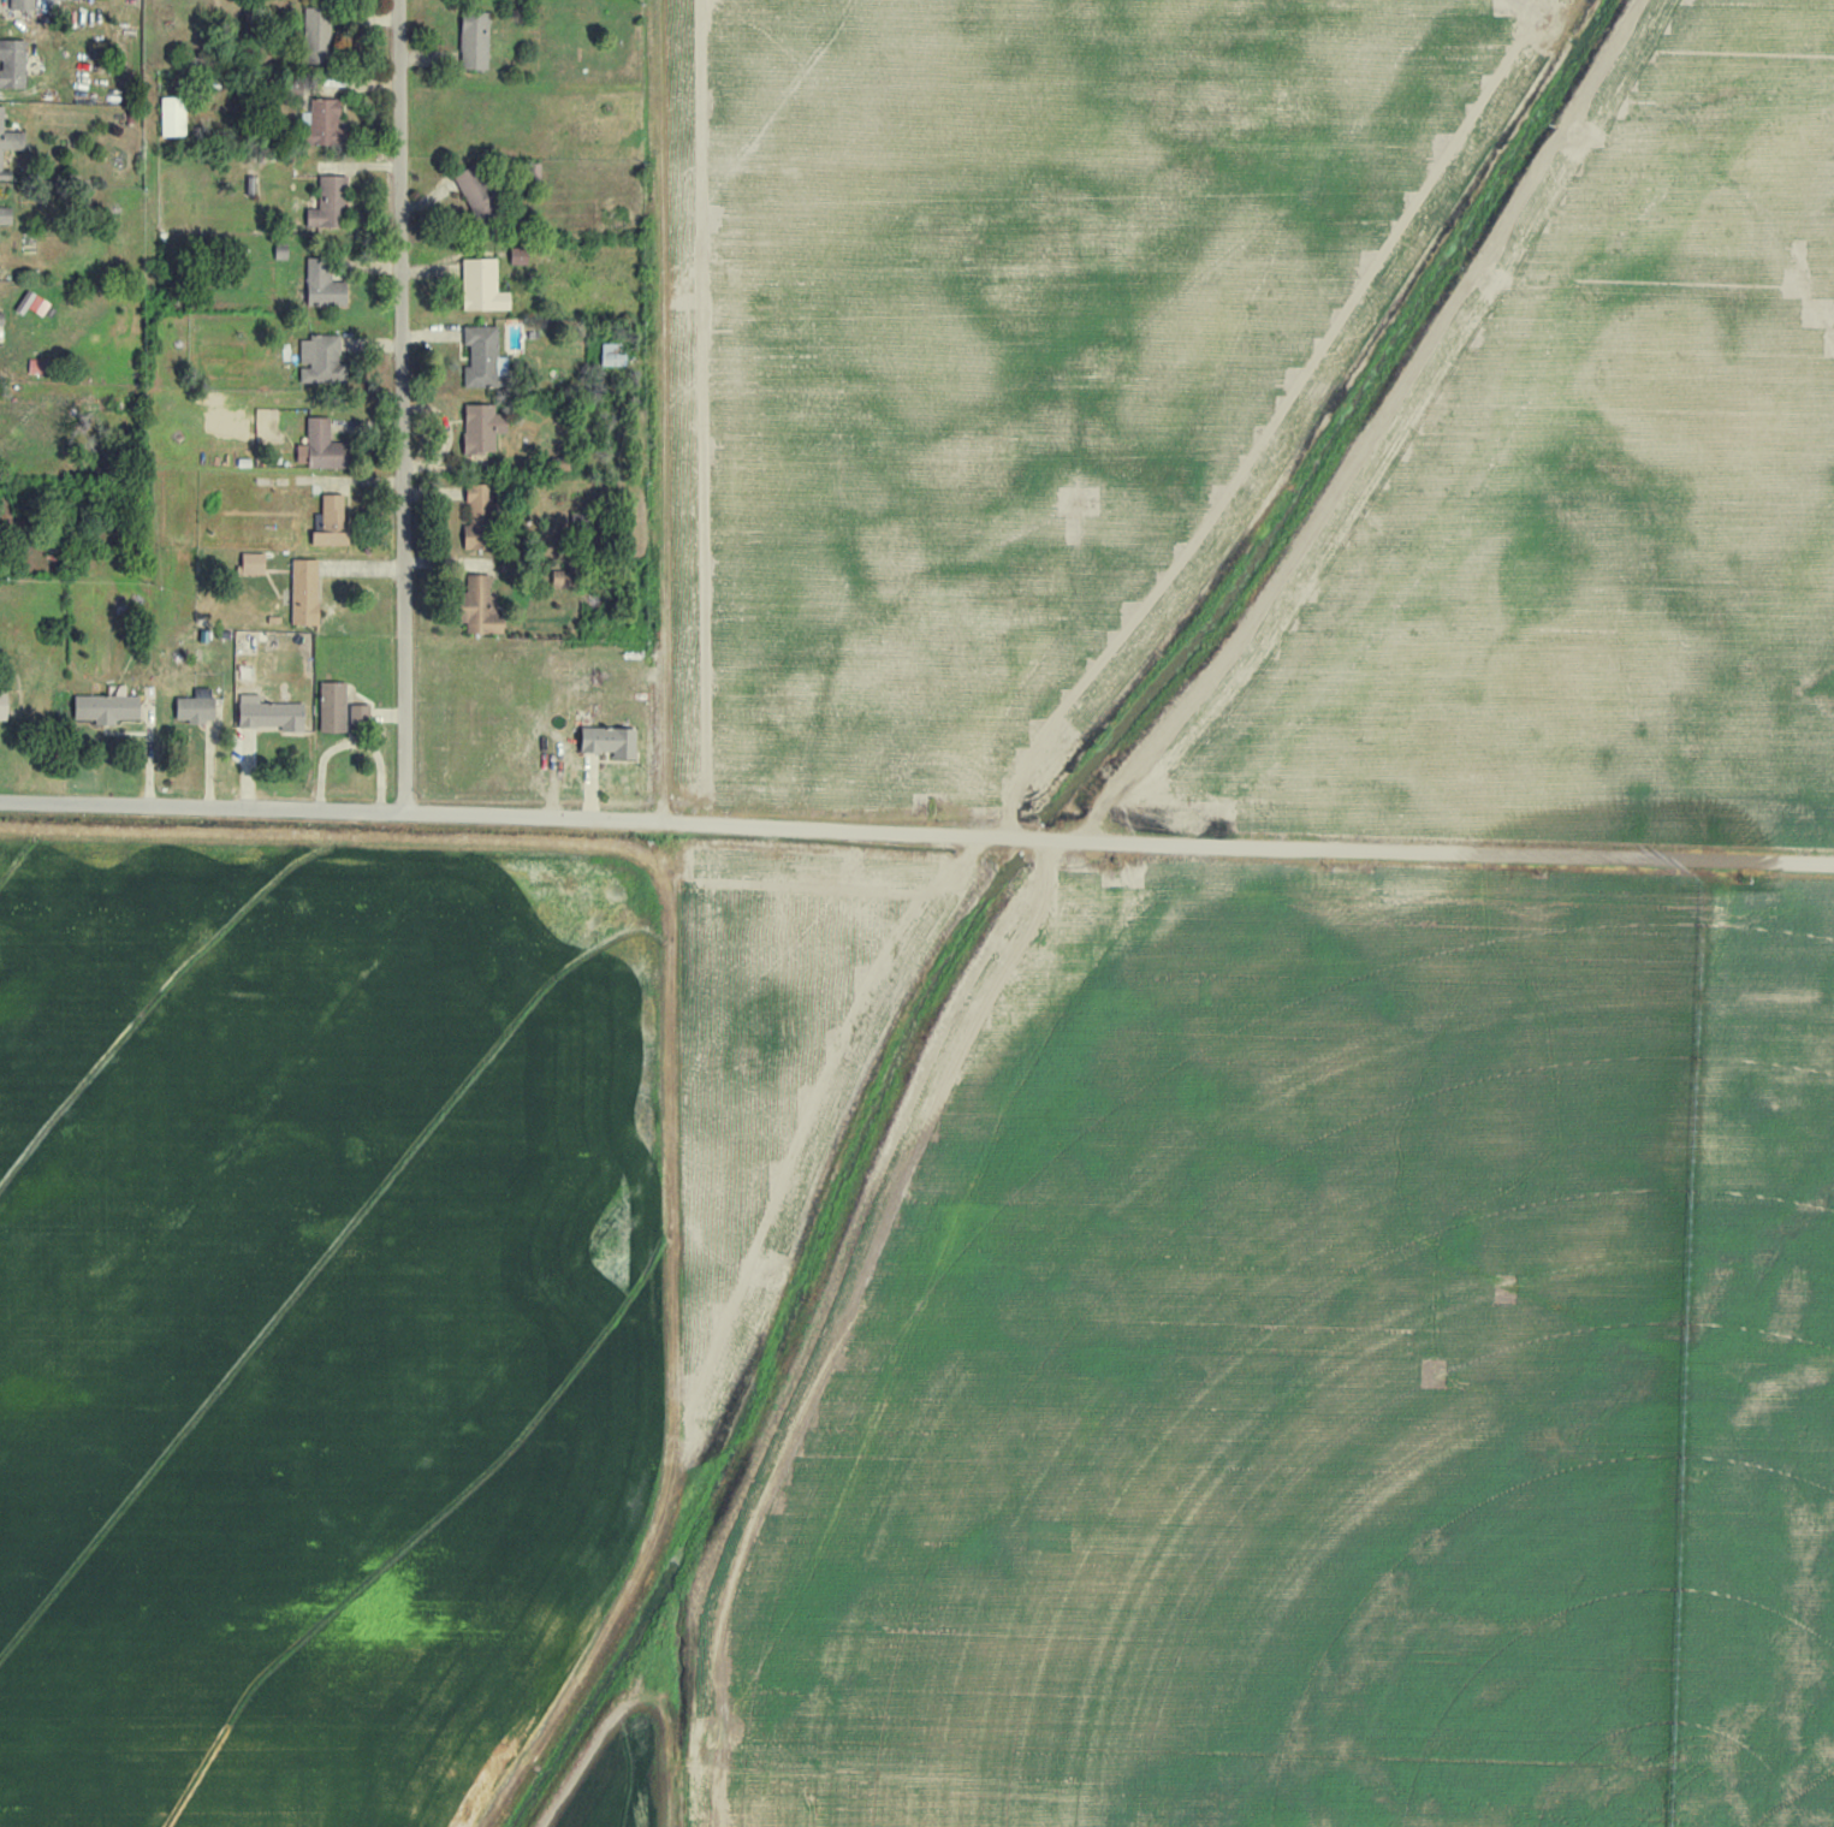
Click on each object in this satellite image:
building: (22, 5)
building: (316, 30)
building: (474, 41)
building: (12, 64)
building: (172, 117)
building: (321, 123)
building: (8, 148)
building: (474, 191)
building: (327, 204)
building: (5, 215)
building: (517, 255)
building: (322, 284)
building: (481, 285)
building: (611, 354)
building: (480, 355)
building: (319, 358)
road: (402, 403)
building: (481, 427)
building: (320, 446)
building: (476, 517)
building: (331, 521)
building: (251, 563)
building: (304, 591)
building: (477, 606)
building: (2, 705)
building: (332, 705)
building: (106, 706)
building: (196, 706)
building: (269, 713)
building: (358, 713)
building: (609, 741)
road: (916, 829)

